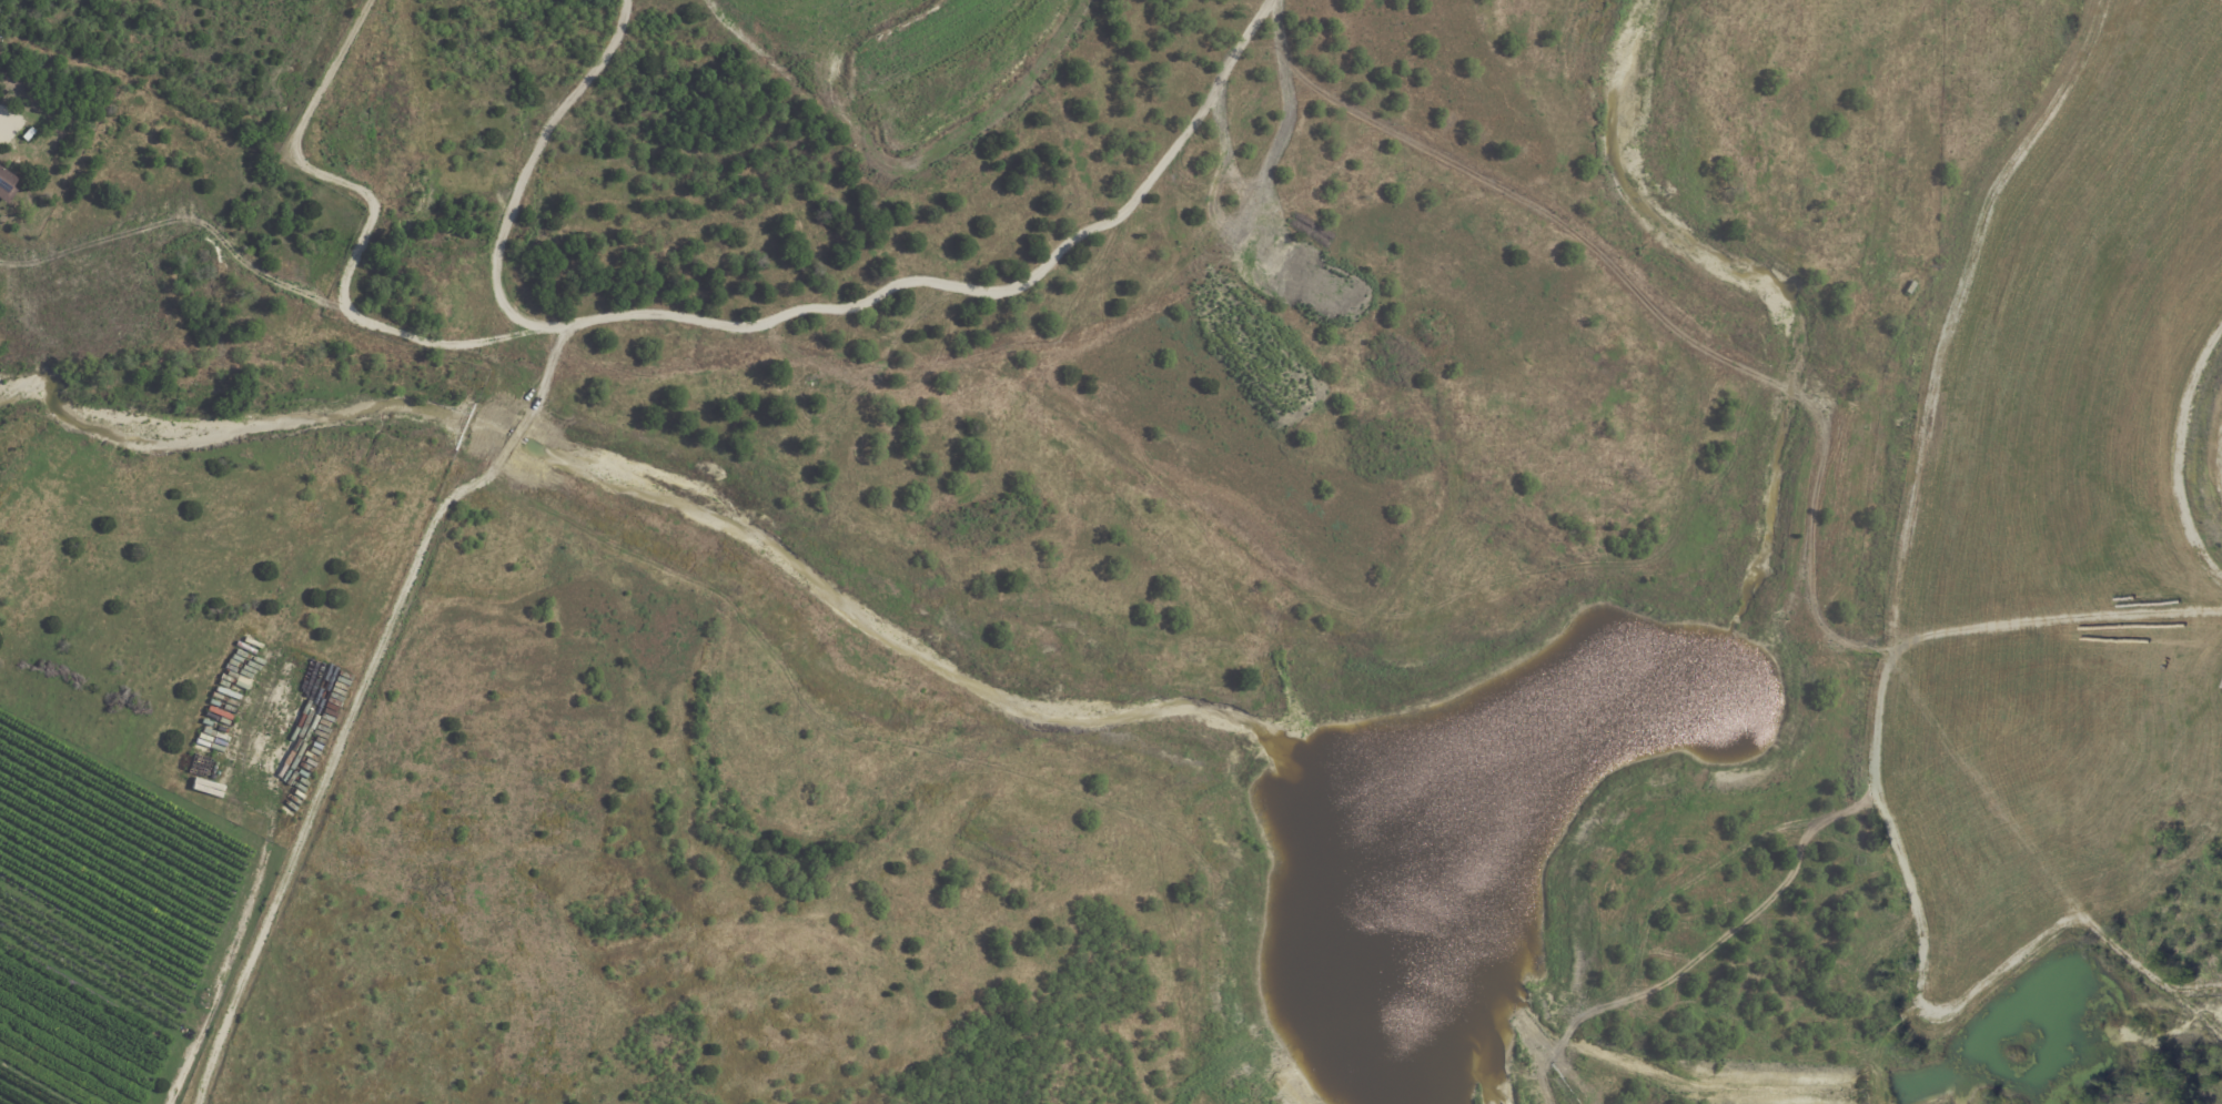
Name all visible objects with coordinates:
building: (30, 133)
building: (10, 186)

